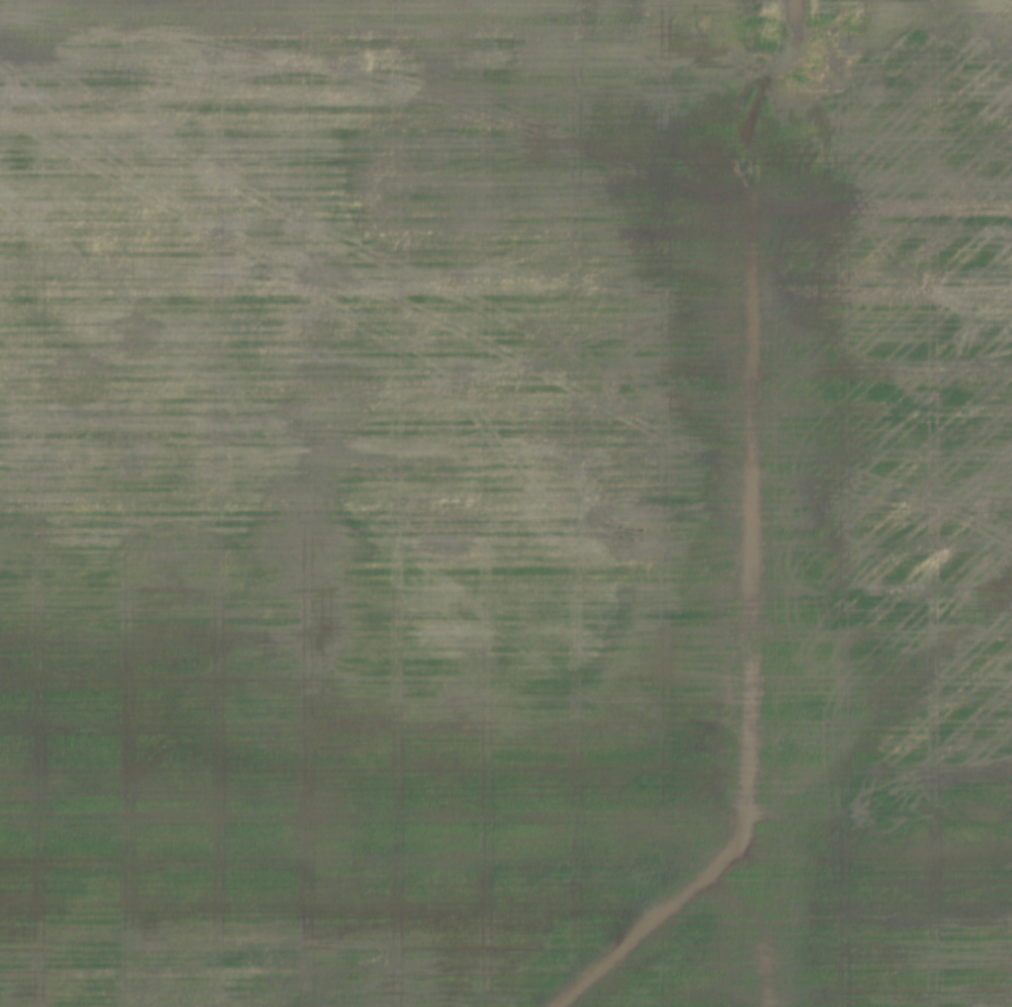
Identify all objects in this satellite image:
crop: (506, 503)

